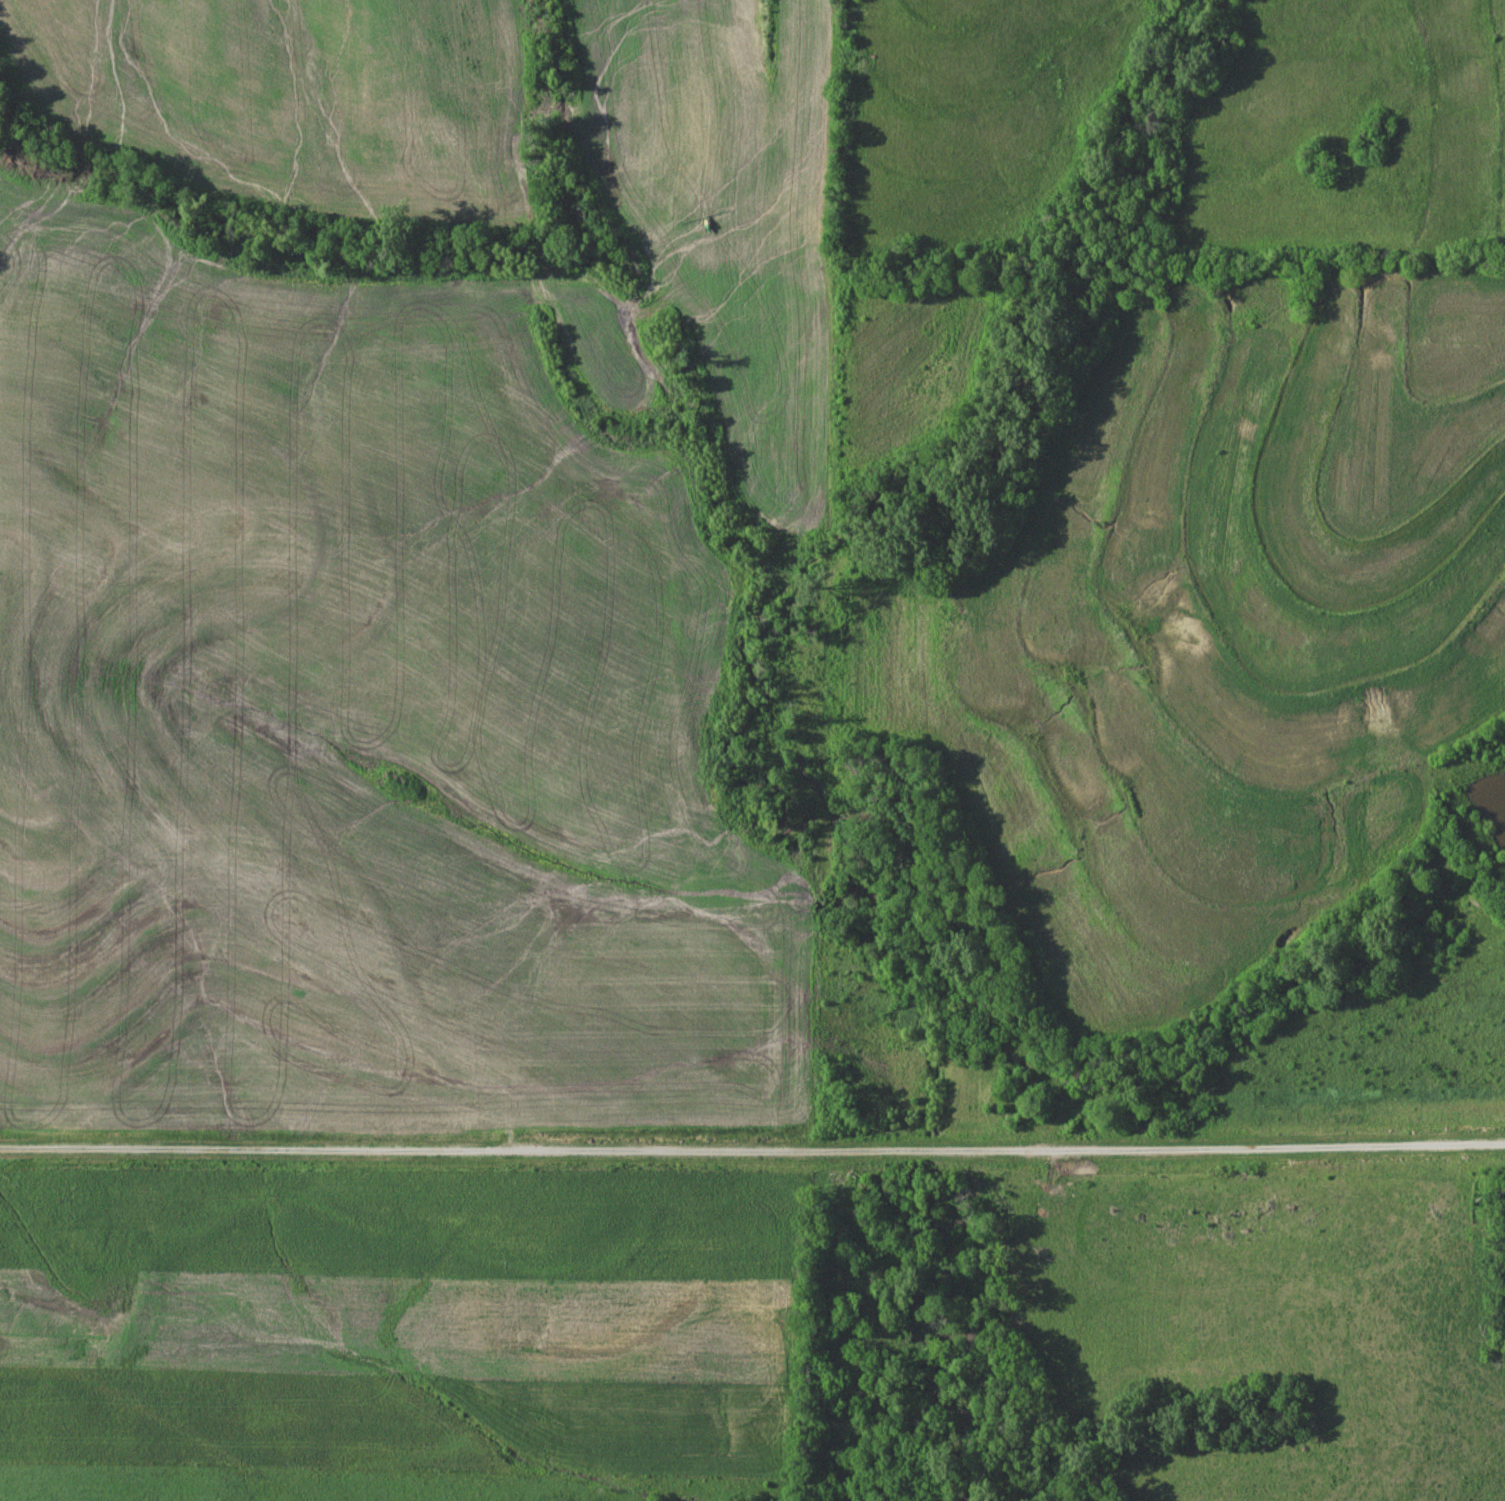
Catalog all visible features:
road: (752, 1155)
park: (1501, 1263)

